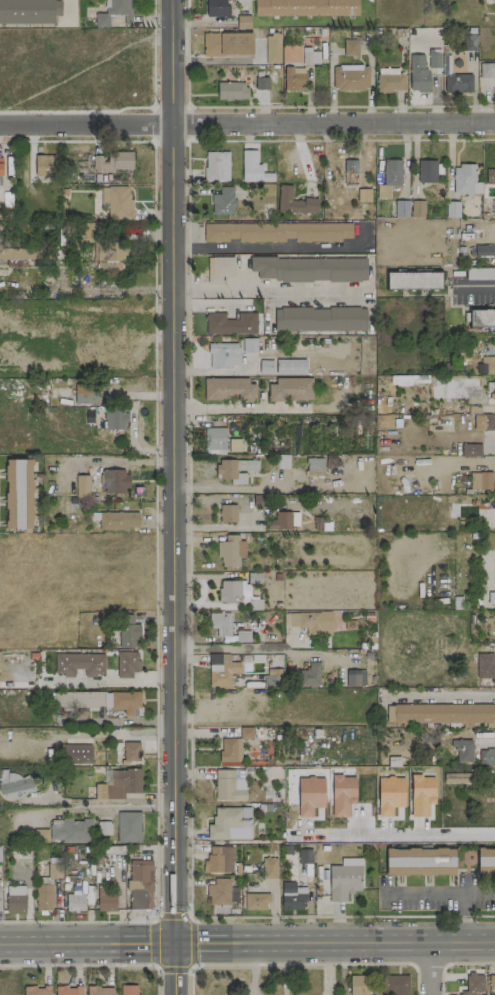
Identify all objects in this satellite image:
building: (494, 5)
building: (305, 7)
building: (216, 8)
building: (26, 11)
building: (116, 11)
building: (468, 42)
building: (227, 44)
building: (350, 47)
building: (272, 49)
building: (310, 56)
building: (434, 58)
road: (215, 60)
building: (487, 70)
building: (418, 74)
building: (350, 77)
building: (294, 78)
building: (390, 82)
building: (261, 83)
building: (457, 83)
building: (232, 91)
road: (289, 106)
road: (247, 124)
building: (112, 162)
building: (45, 165)
building: (0, 166)
building: (216, 166)
building: (251, 167)
building: (427, 171)
building: (392, 172)
building: (349, 173)
building: (490, 175)
building: (465, 181)
building: (117, 201)
building: (223, 201)
building: (294, 202)
building: (401, 208)
building: (417, 208)
building: (493, 208)
building: (452, 209)
building: (277, 232)
road: (276, 248)
building: (483, 251)
building: (20, 253)
building: (219, 269)
building: (309, 269)
building: (413, 280)
road: (476, 287)
road: (264, 289)
building: (481, 318)
building: (320, 319)
building: (230, 323)
building: (223, 355)
building: (487, 364)
building: (265, 367)
building: (290, 367)
building: (400, 380)
building: (229, 389)
building: (289, 389)
building: (86, 394)
building: (493, 395)
road: (240, 409)
building: (114, 418)
building: (487, 422)
building: (215, 440)
building: (234, 445)
building: (471, 450)
road: (471, 460)
building: (314, 466)
building: (235, 470)
road: (173, 471)
building: (115, 480)
building: (480, 480)
building: (82, 486)
road: (225, 487)
building: (18, 494)
building: (228, 513)
building: (118, 520)
building: (281, 520)
building: (230, 551)
building: (238, 588)
building: (491, 598)
building: (312, 622)
building: (229, 627)
building: (129, 635)
road: (232, 649)
road: (320, 655)
building: (79, 664)
building: (127, 664)
building: (485, 666)
building: (221, 670)
building: (310, 675)
building: (272, 677)
building: (352, 678)
road: (106, 682)
road: (440, 695)
building: (96, 701)
building: (442, 714)
building: (246, 733)
road: (459, 734)
building: (230, 750)
building: (462, 750)
building: (131, 751)
building: (76, 755)
building: (486, 756)
building: (493, 780)
building: (119, 784)
building: (15, 785)
building: (228, 786)
road: (122, 805)
building: (229, 825)
building: (128, 827)
building: (103, 828)
building: (71, 831)
road: (398, 836)
building: (305, 856)
building: (218, 859)
building: (419, 862)
building: (486, 862)
building: (269, 868)
building: (53, 870)
building: (344, 879)
building: (140, 884)
building: (218, 892)
road: (437, 894)
building: (292, 896)
building: (43, 897)
building: (15, 899)
building: (106, 900)
building: (255, 901)
building: (77, 903)
building: (0, 909)
road: (156, 919)
road: (461, 919)
road: (86, 943)
road: (334, 943)
road: (453, 962)
road: (316, 963)
road: (79, 964)
road: (174, 969)
road: (431, 969)
road: (190, 981)
building: (492, 983)
building: (473, 984)
building: (358, 985)
building: (396, 985)
building: (36, 990)
building: (68, 990)
building: (99, 990)
building: (128, 990)

